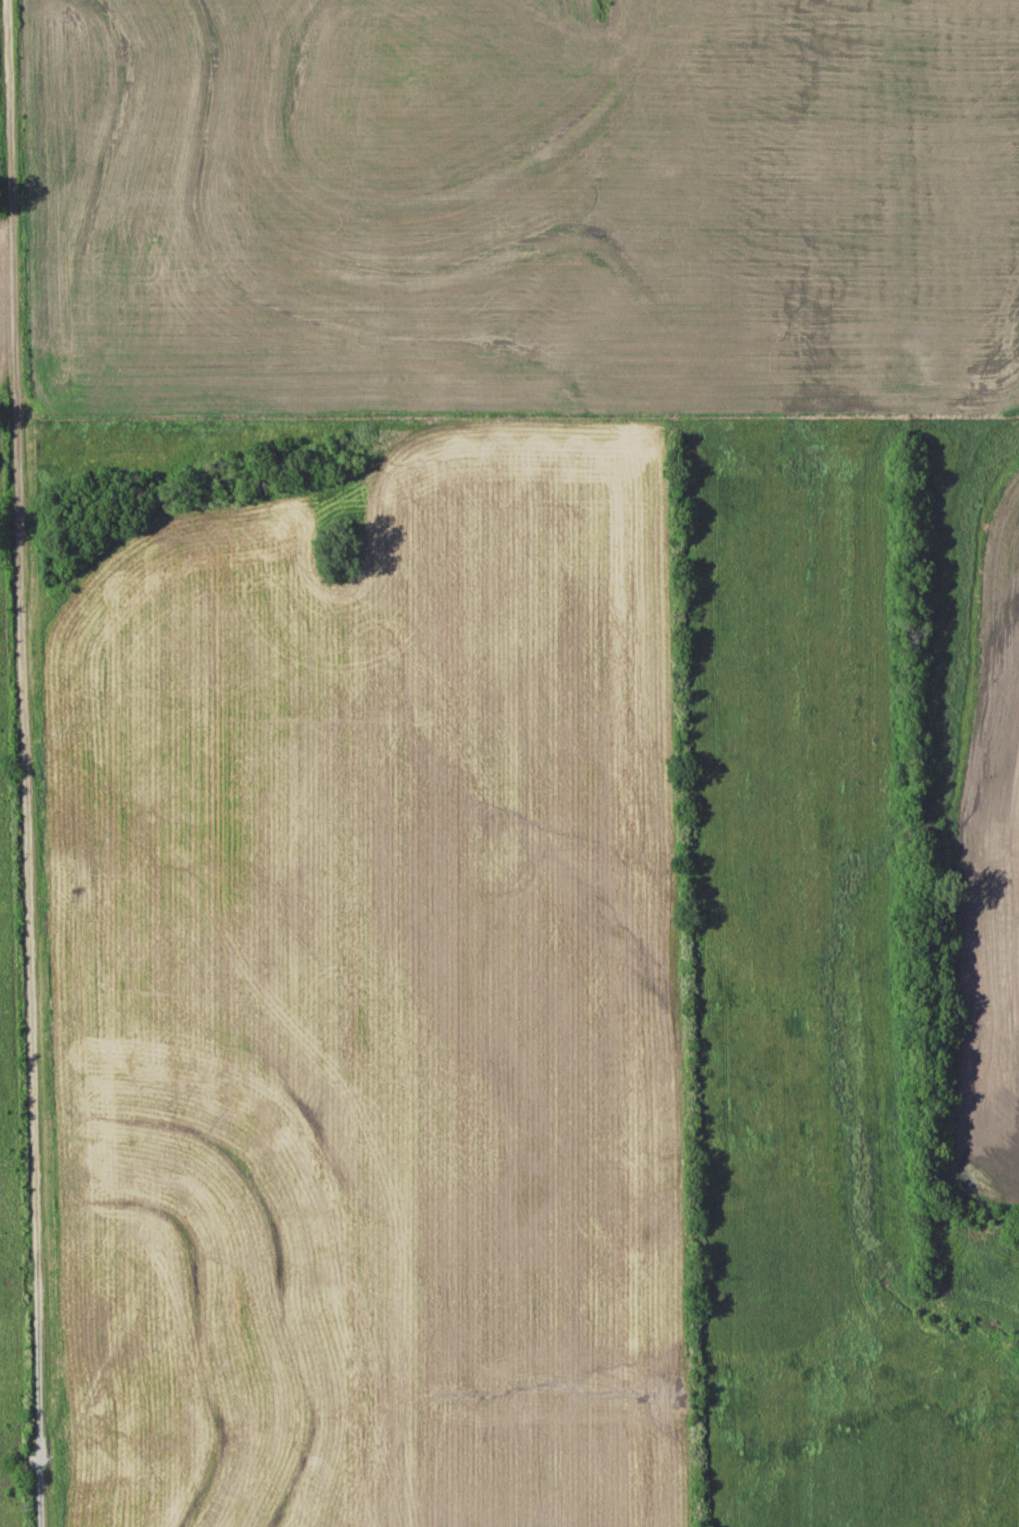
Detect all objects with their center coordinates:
road: (22, 763)

